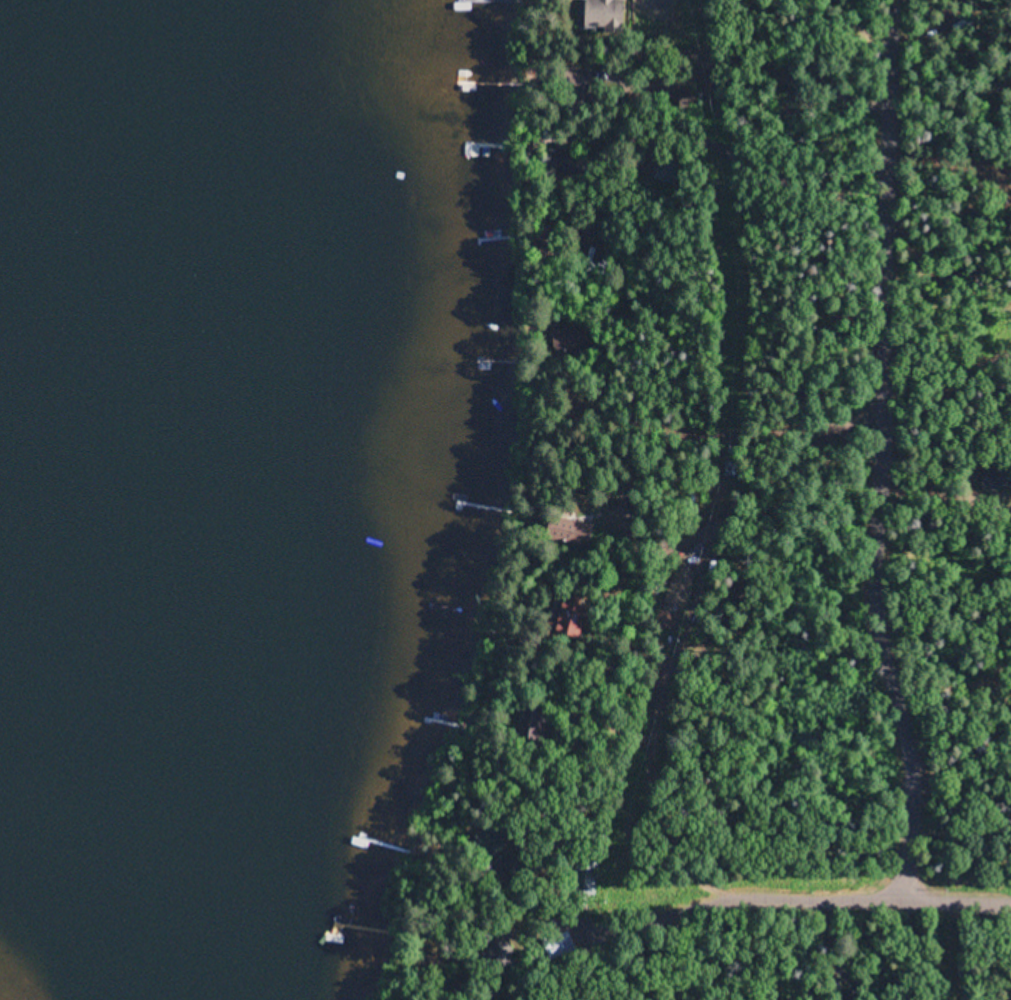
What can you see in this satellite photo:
building: (594, 15)
road: (860, 452)
road: (875, 840)
road: (820, 890)
road: (966, 944)

